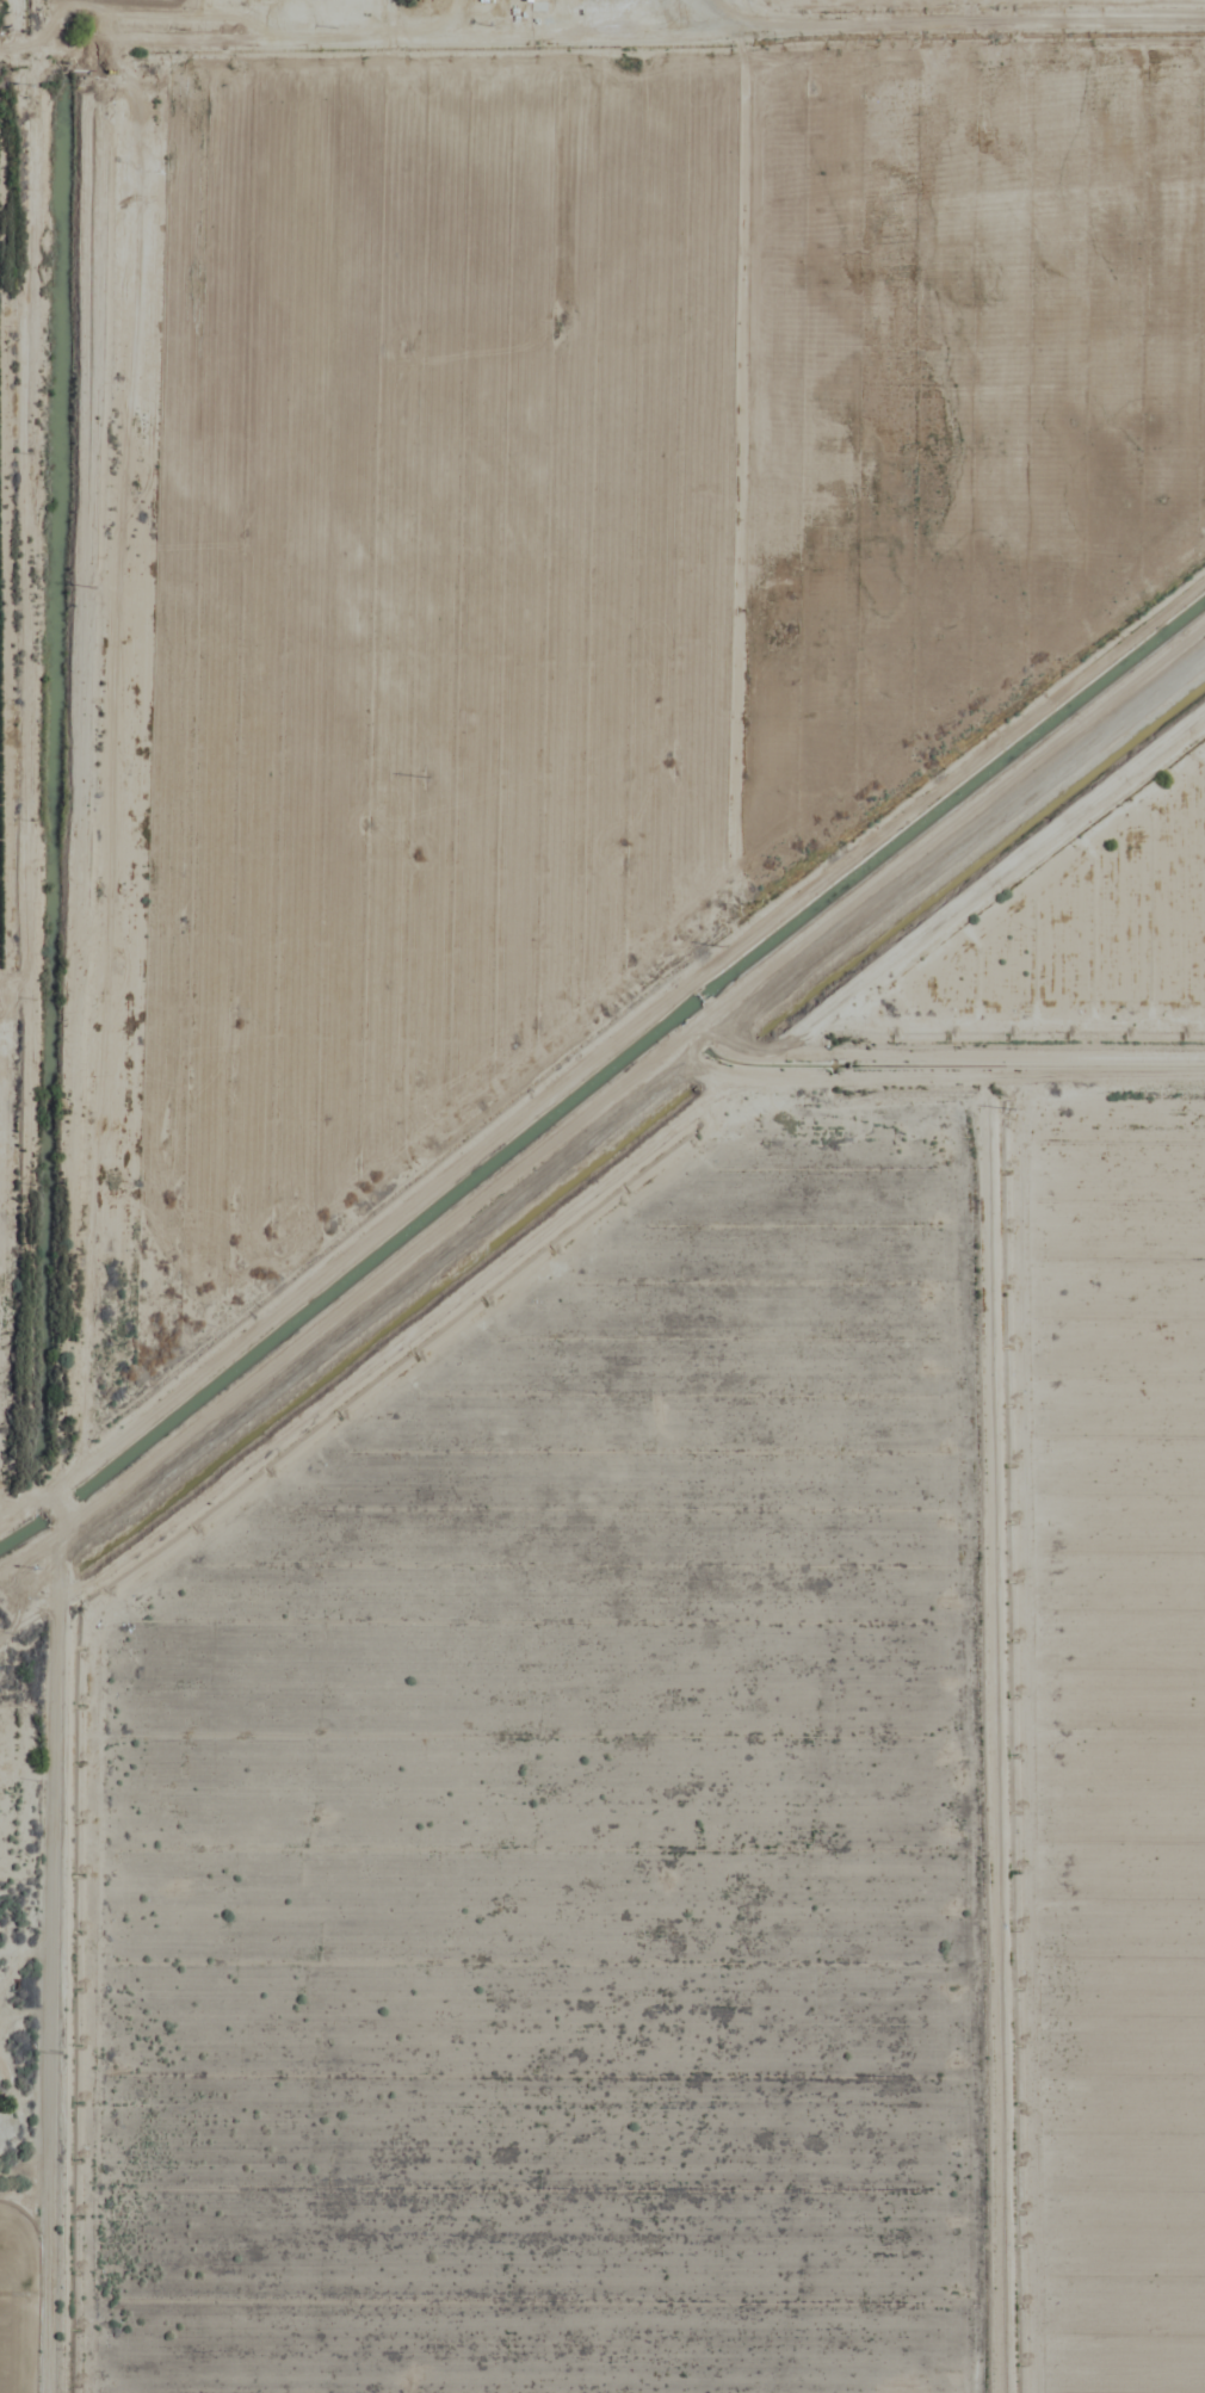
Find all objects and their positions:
road: (13, 1076)
crop: (602, 1196)
road: (1, 2327)

